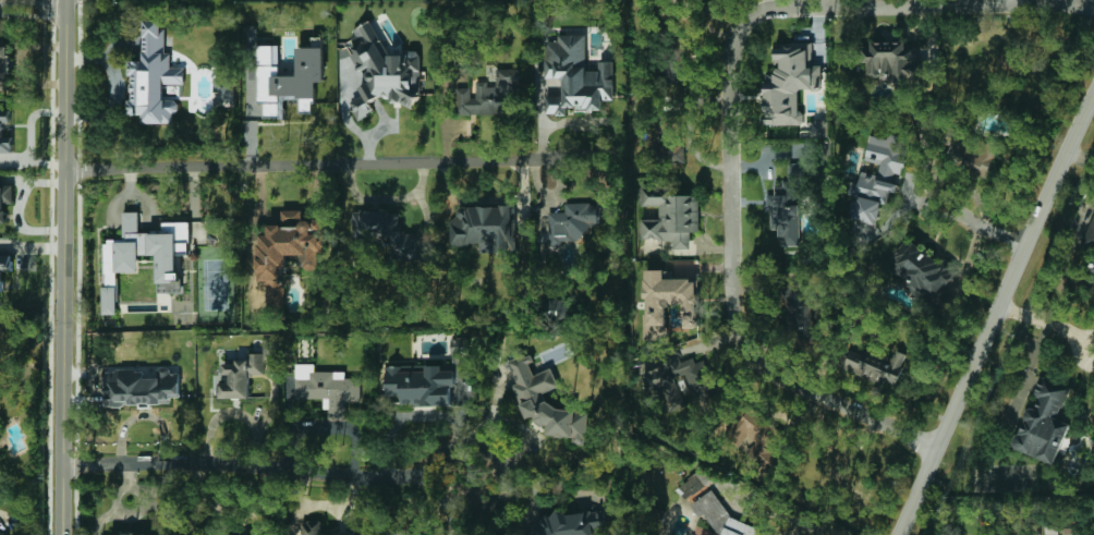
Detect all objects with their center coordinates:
road: (33, 3)
road: (33, 14)
building: (895, 58)
building: (678, 60)
building: (3, 68)
building: (382, 71)
building: (575, 75)
building: (154, 77)
building: (288, 77)
building: (790, 83)
building: (224, 90)
building: (489, 93)
road: (728, 113)
building: (818, 127)
building: (1, 130)
road: (370, 131)
building: (668, 138)
road: (557, 156)
road: (282, 163)
building: (876, 177)
building: (4, 200)
road: (17, 207)
building: (787, 208)
building: (670, 216)
building: (576, 221)
building: (485, 228)
road: (982, 229)
building: (384, 231)
building: (1090, 234)
building: (290, 244)
building: (147, 252)
building: (3, 267)
road: (66, 267)
building: (1092, 267)
building: (921, 270)
building: (268, 290)
building: (109, 300)
building: (667, 300)
building: (797, 308)
building: (556, 309)
road: (994, 315)
road: (1047, 324)
building: (875, 365)
building: (246, 370)
building: (420, 385)
building: (139, 387)
building: (327, 387)
building: (531, 398)
road: (235, 412)
building: (1044, 423)
building: (753, 433)
road: (439, 452)
road: (247, 465)
road: (129, 474)
building: (692, 485)
road: (229, 511)
road: (125, 515)
building: (719, 516)
road: (786, 518)
road: (101, 519)
building: (574, 523)
building: (311, 527)
building: (2, 533)
building: (354, 534)

